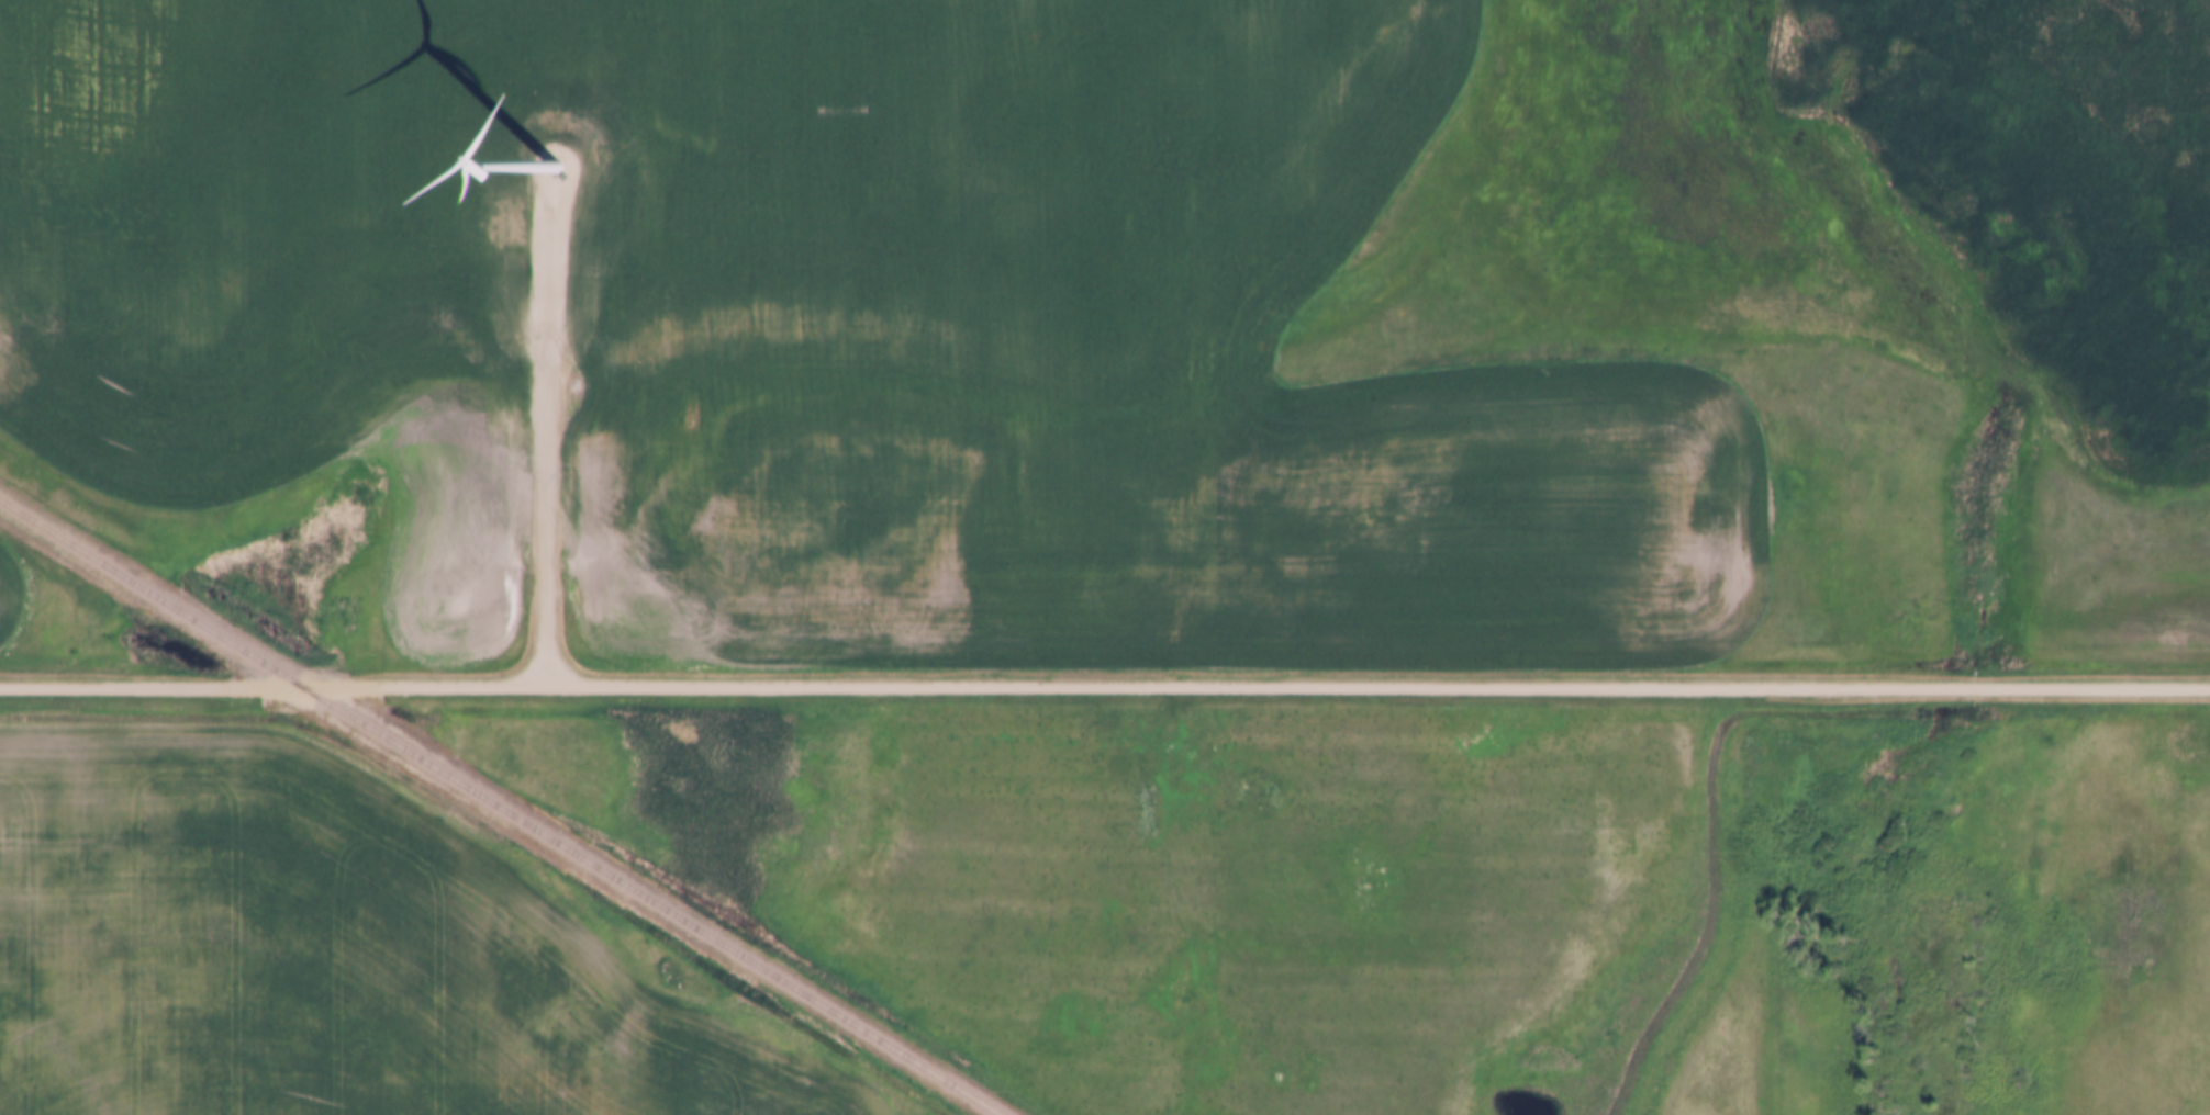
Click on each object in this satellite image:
wind turbine: (556, 167)
road: (550, 442)
road: (1105, 686)
railway: (503, 807)

